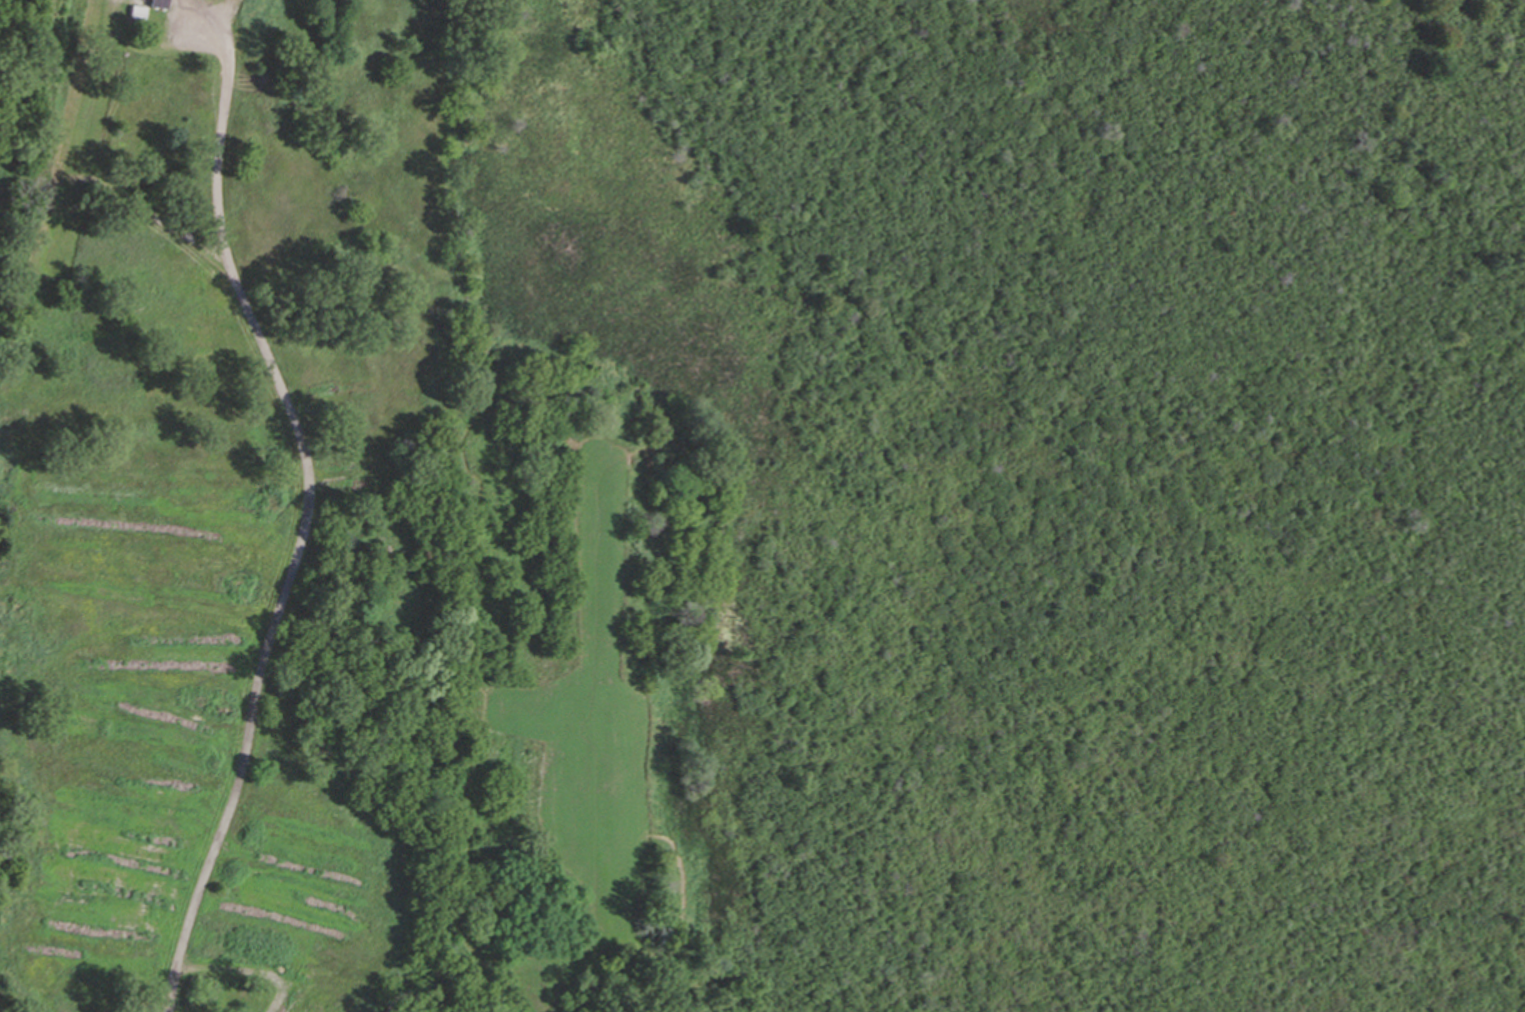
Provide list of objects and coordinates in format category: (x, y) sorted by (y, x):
building: (156, 3)
road: (291, 534)

